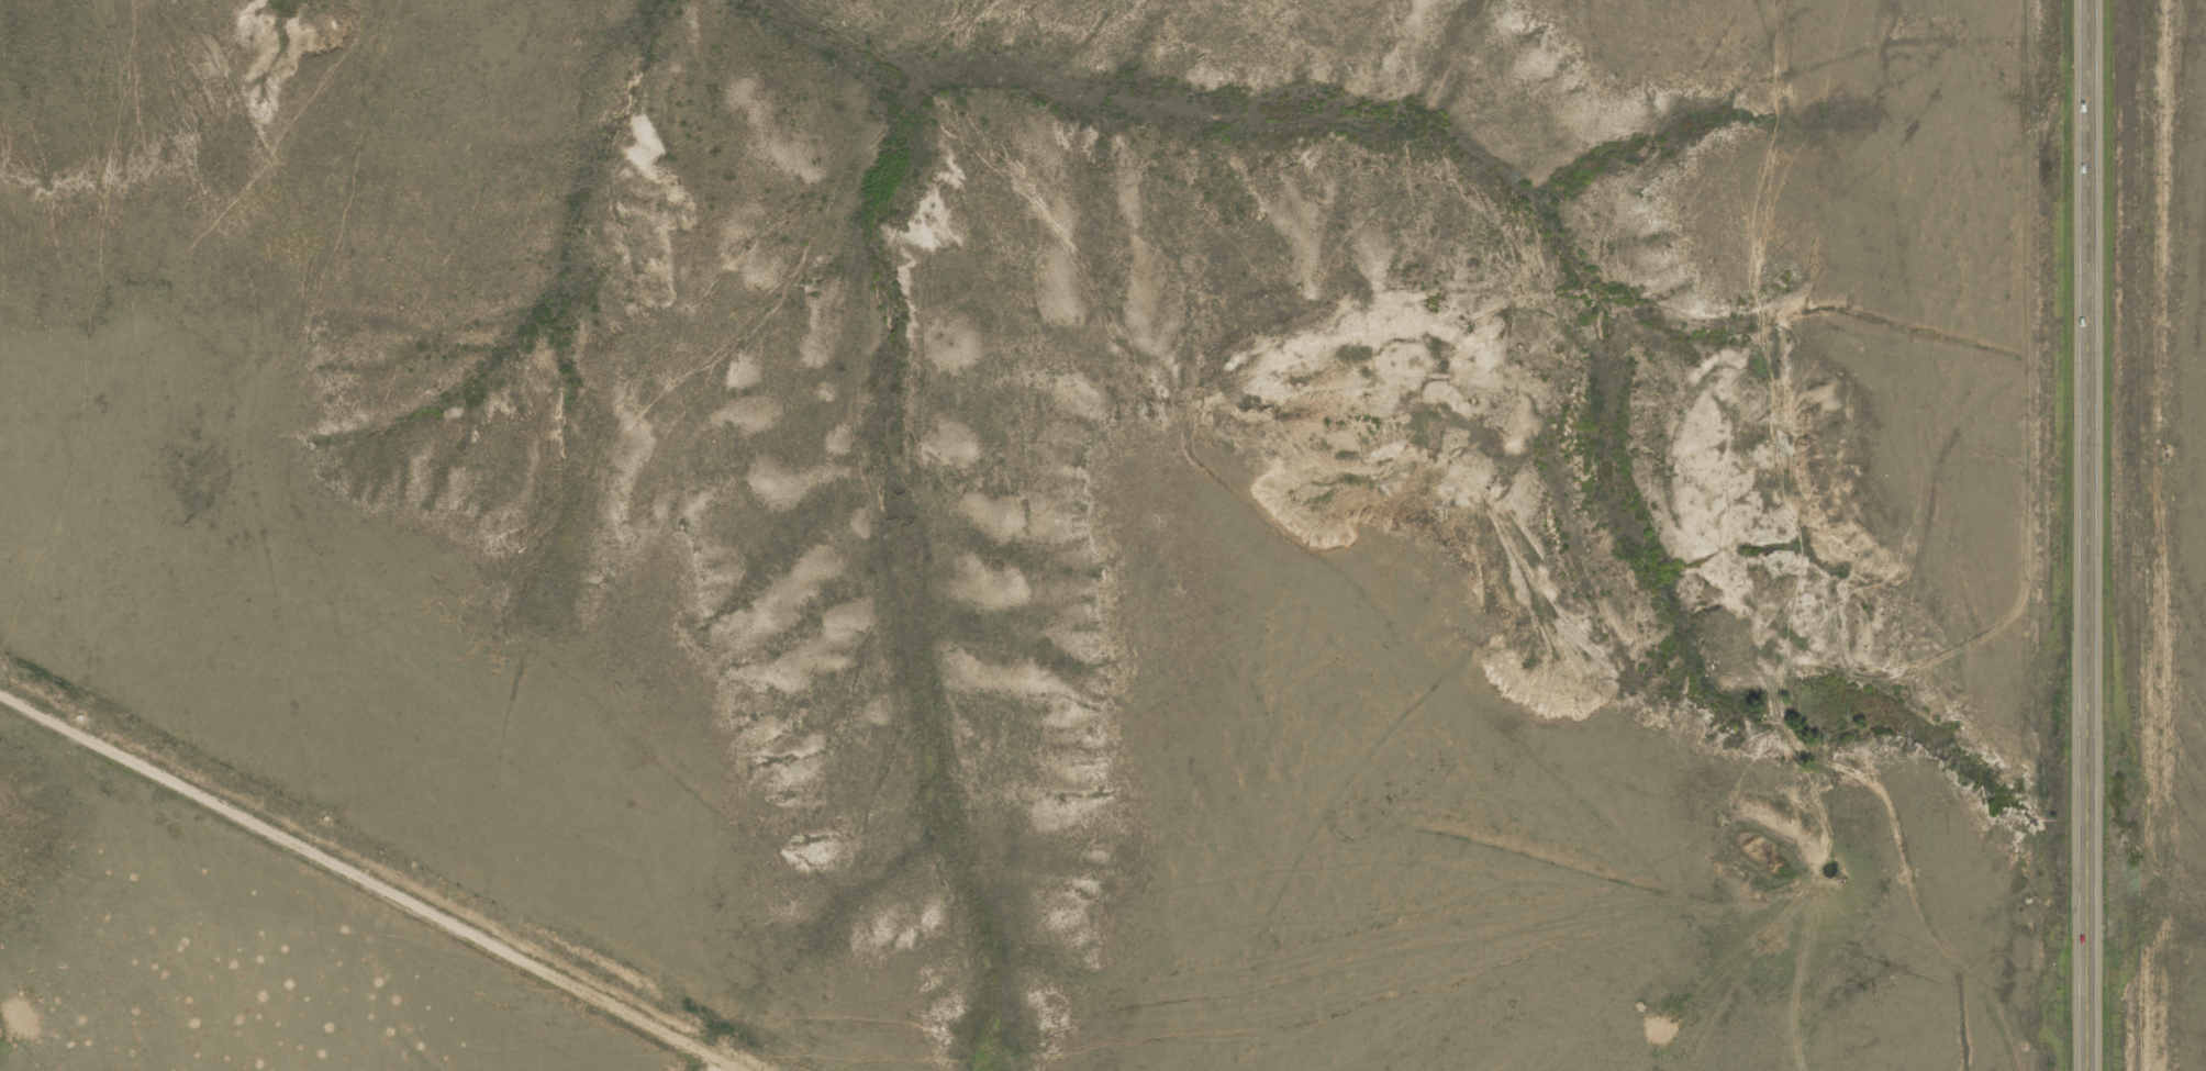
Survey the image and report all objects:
road: (2095, 535)
road: (376, 881)

